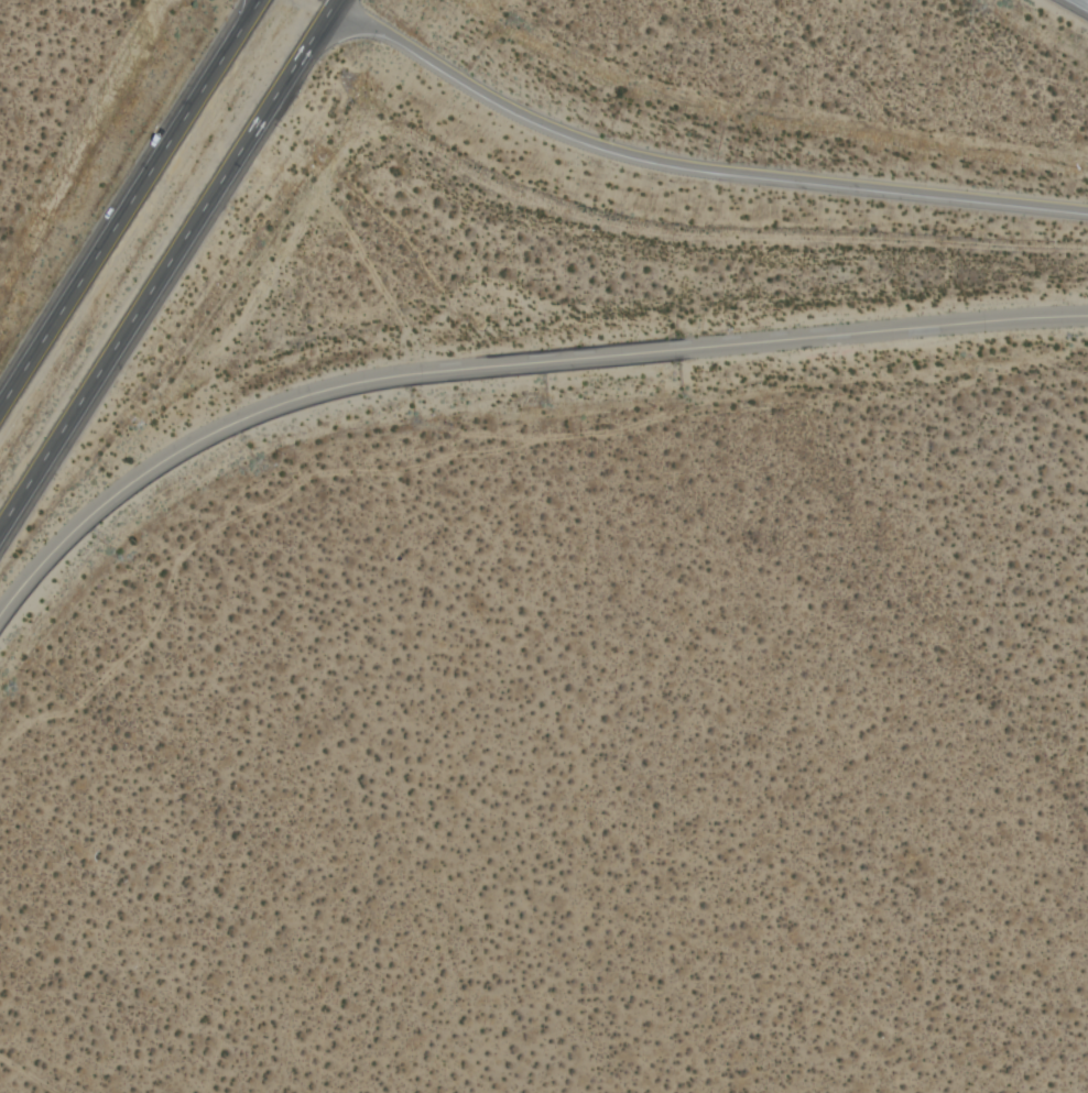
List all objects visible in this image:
road: (690, 165)
road: (124, 198)
road: (163, 260)
road: (503, 365)

